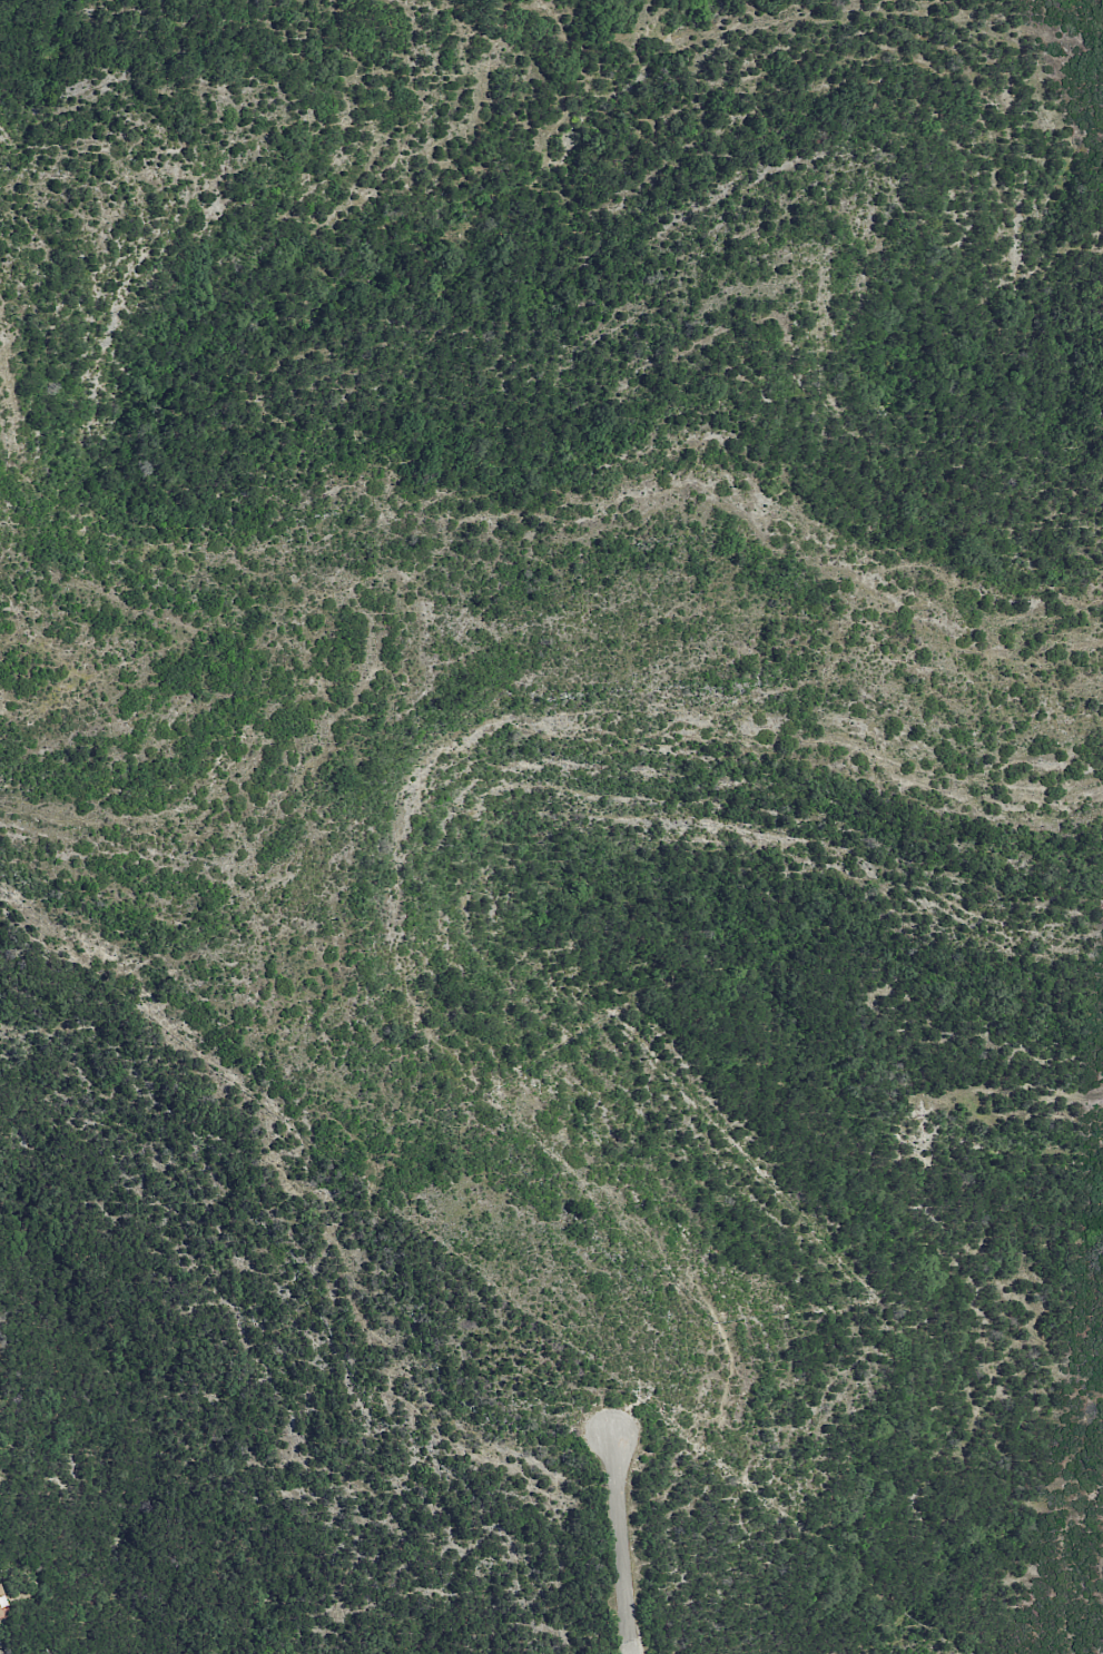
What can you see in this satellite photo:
road: (622, 1540)
building: (2, 1606)

